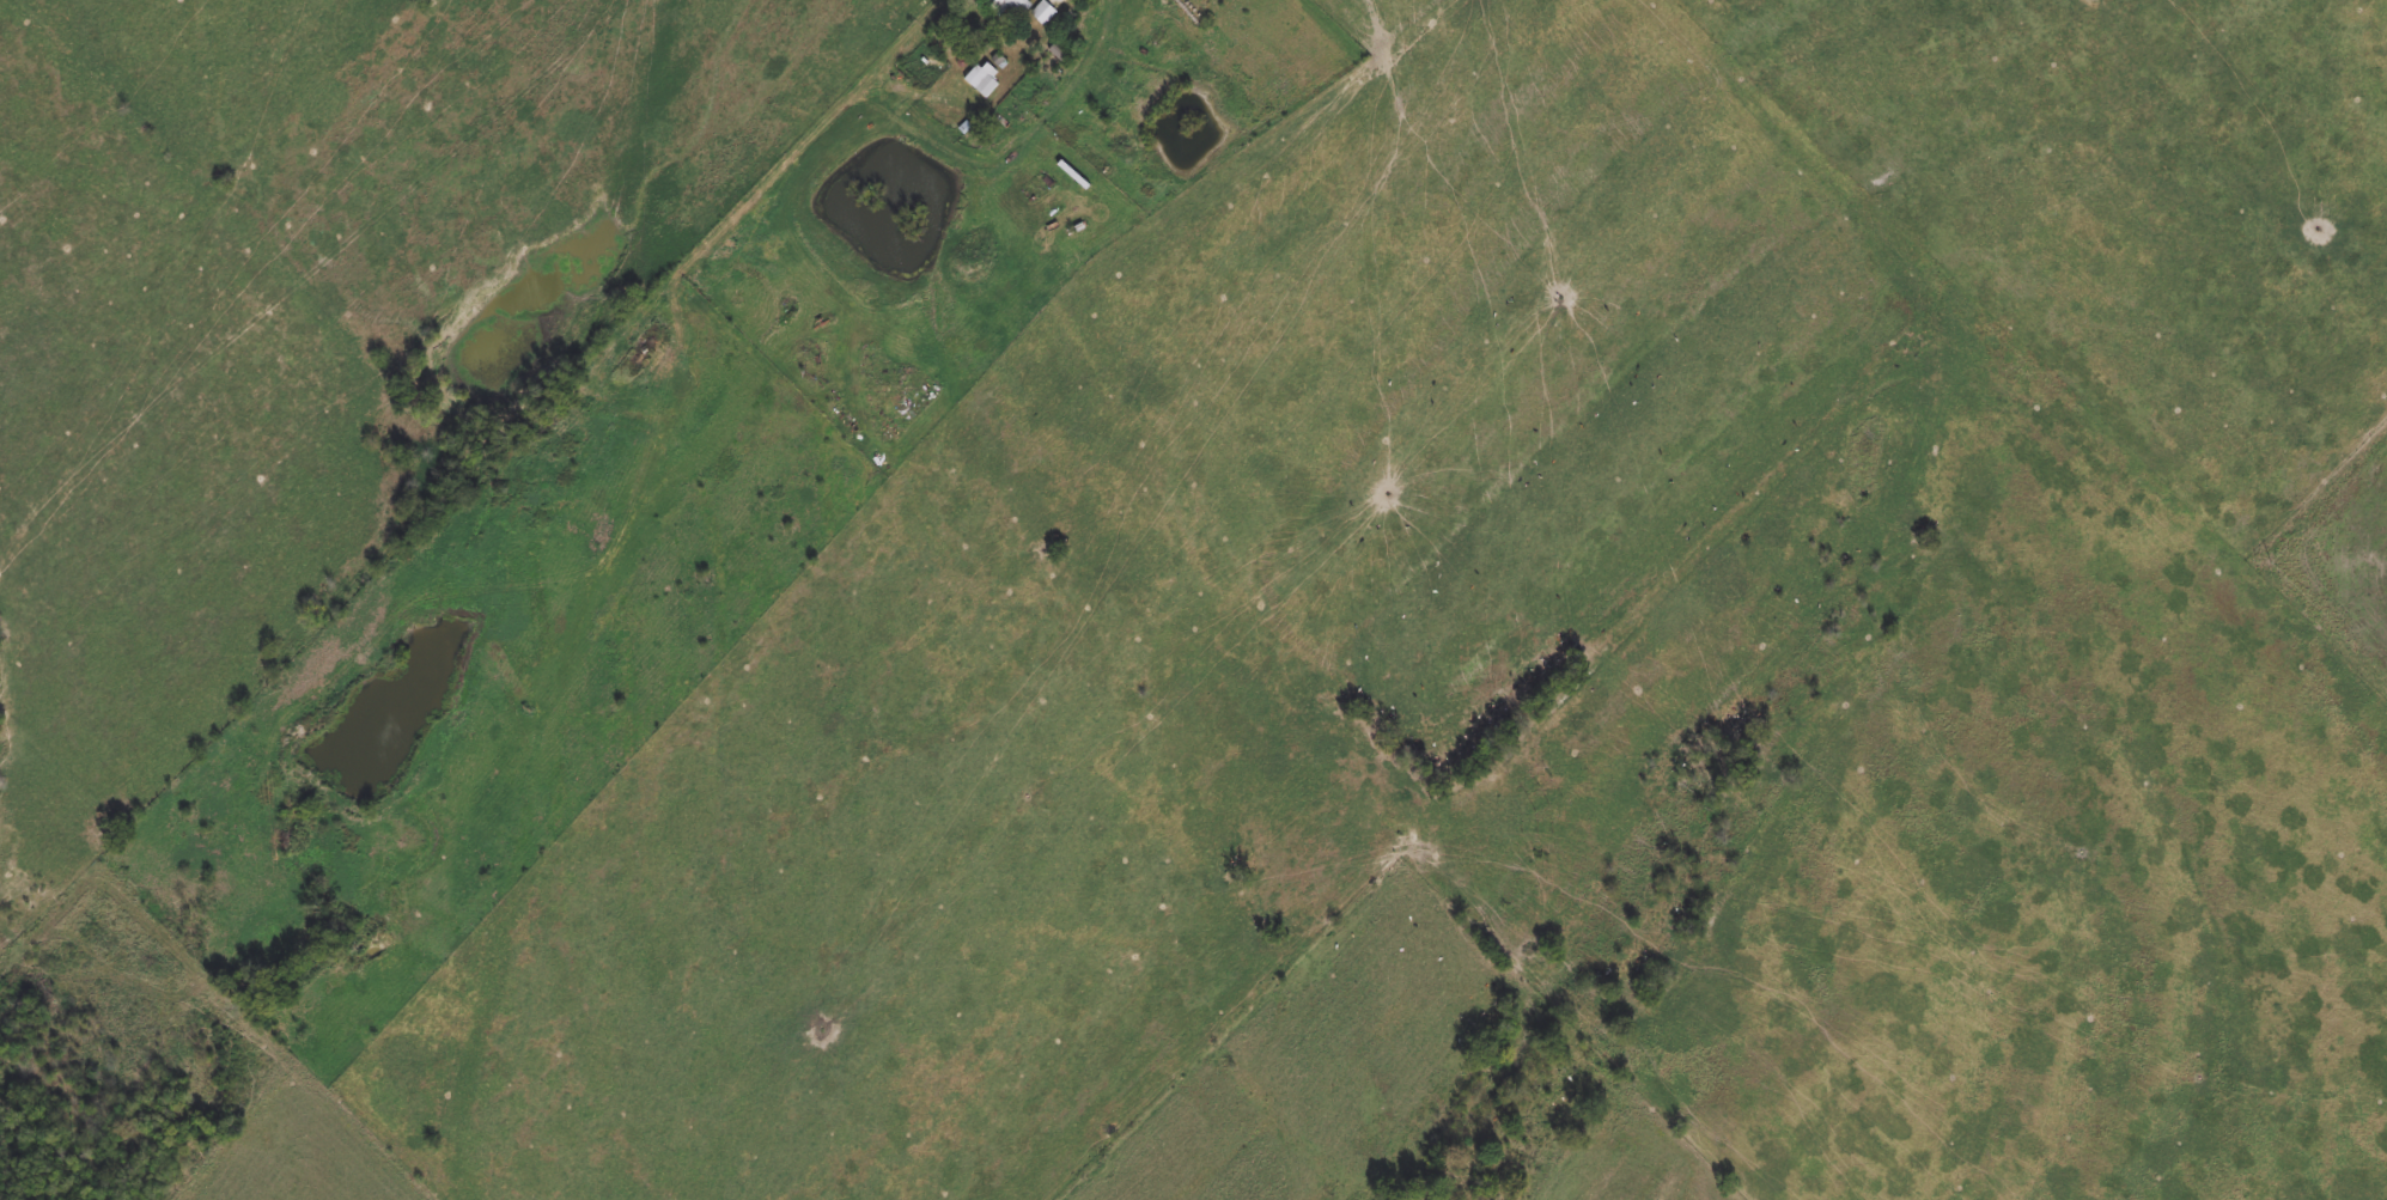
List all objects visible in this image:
building: (995, 6)
building: (975, 75)

